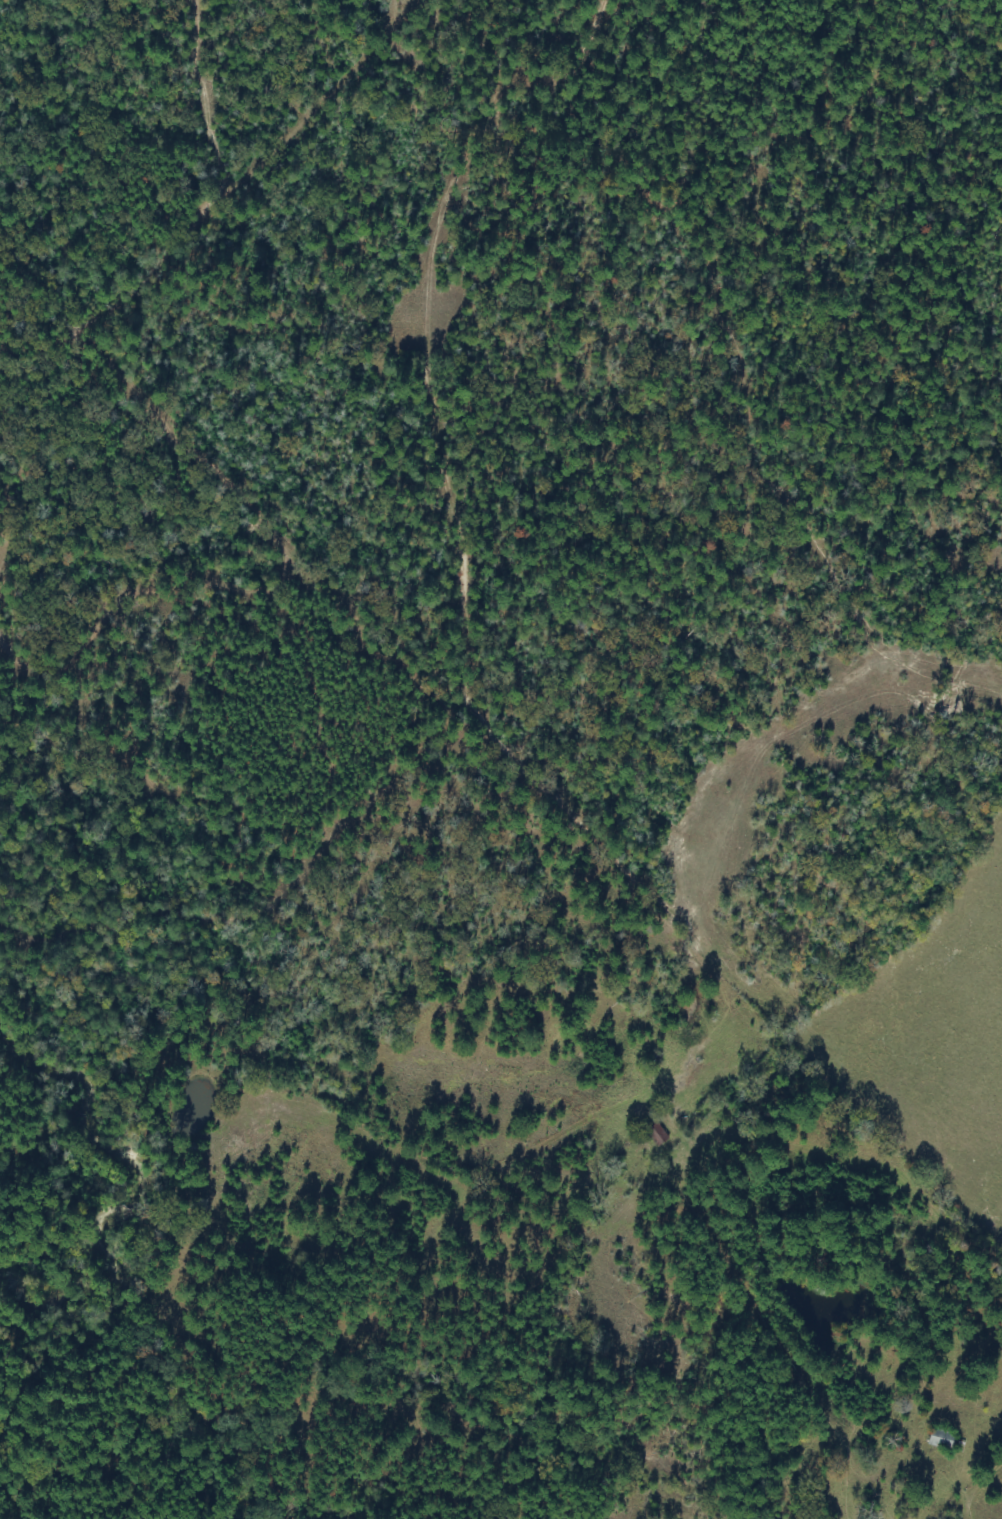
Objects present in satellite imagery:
road: (862, 1203)
building: (941, 1439)

